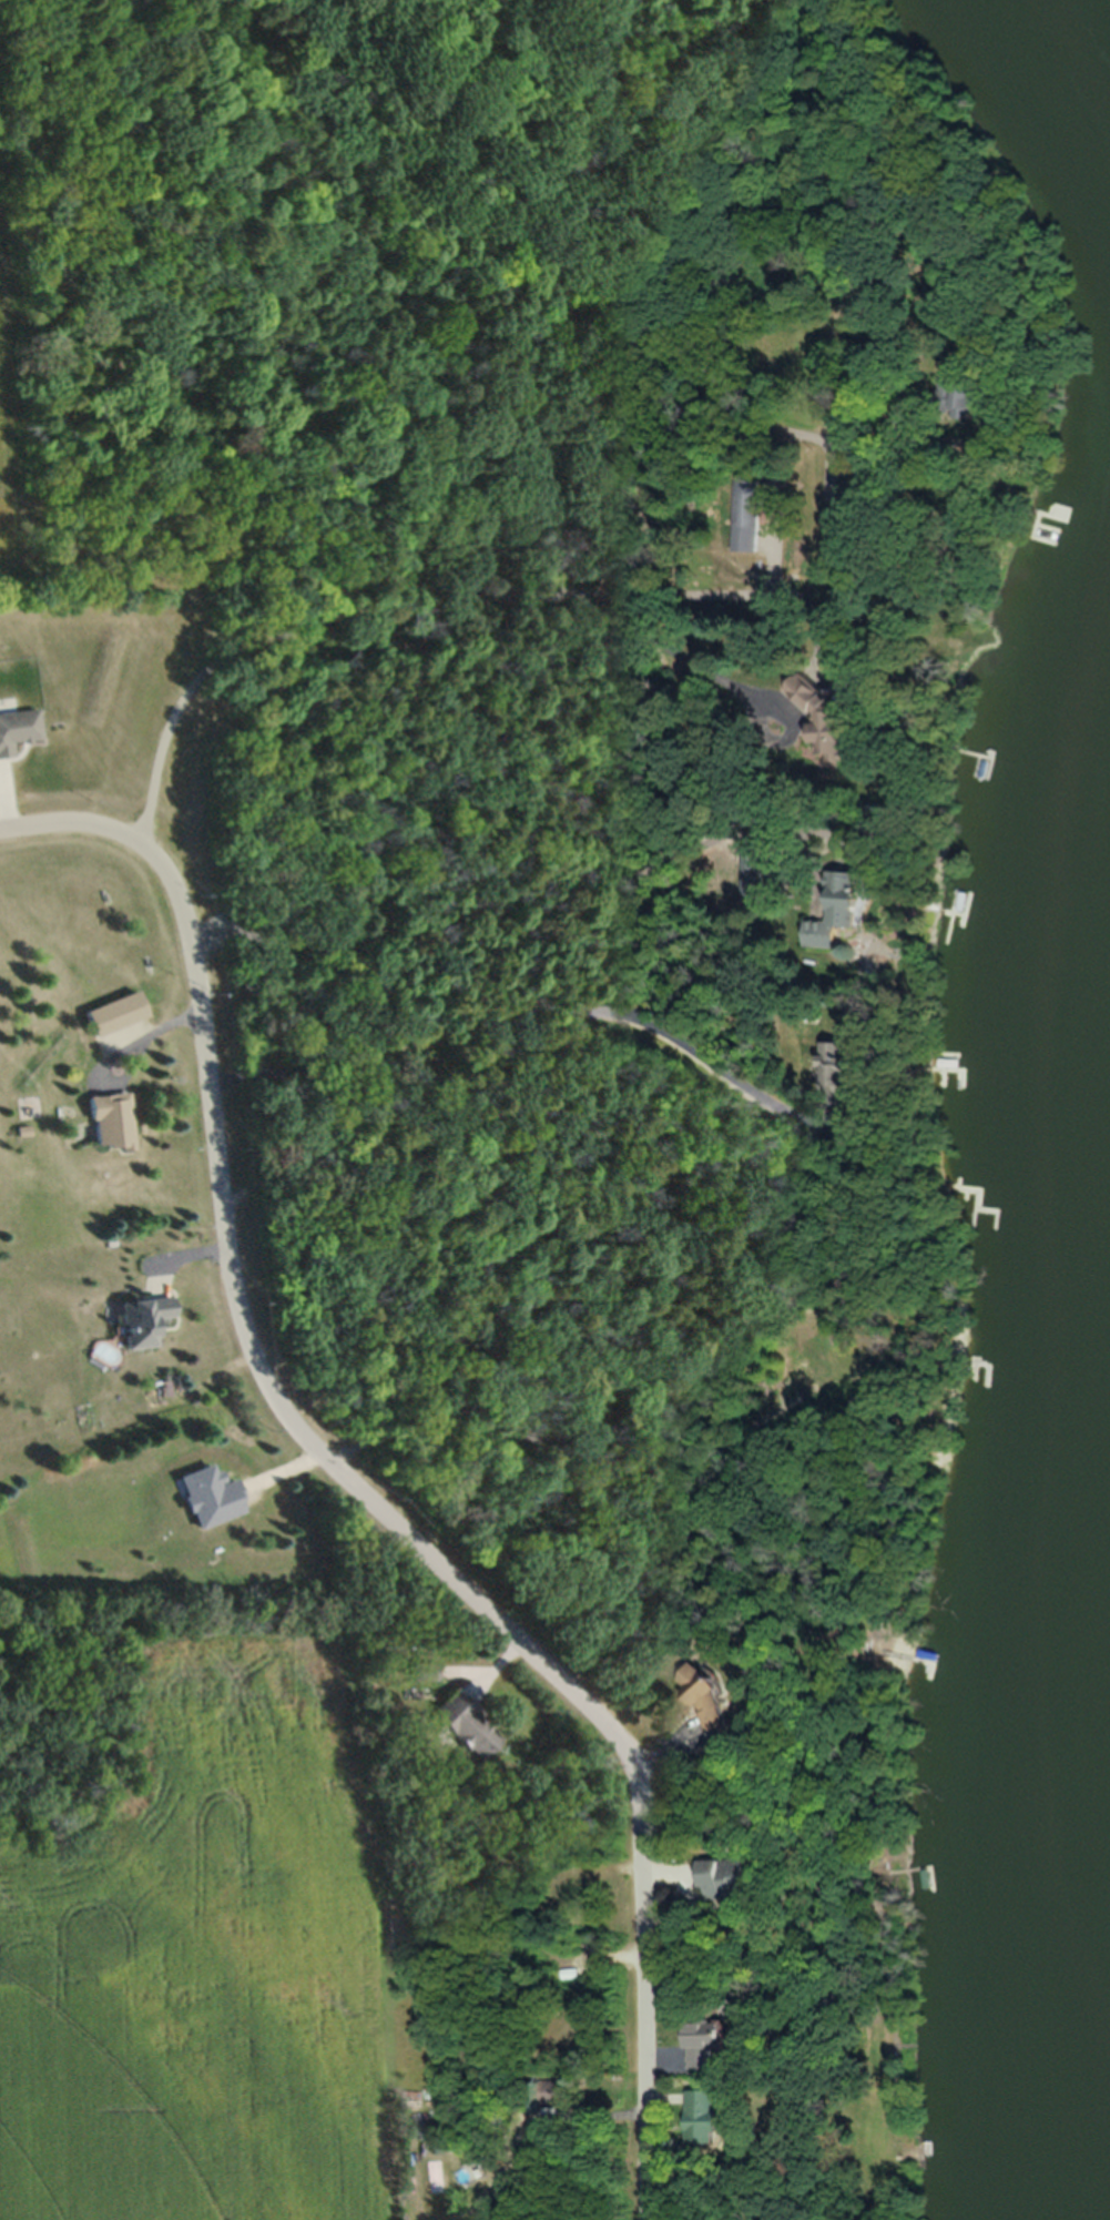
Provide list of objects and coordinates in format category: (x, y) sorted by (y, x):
building: (950, 396)
building: (863, 485)
building: (751, 509)
road: (374, 637)
building: (832, 709)
building: (18, 728)
building: (844, 910)
road: (532, 1013)
building: (842, 1065)
building: (112, 1121)
building: (145, 1320)
road: (352, 1490)
building: (713, 1700)
building: (466, 1725)
building: (733, 1876)
building: (712, 2041)
building: (557, 2090)
building: (711, 2115)

